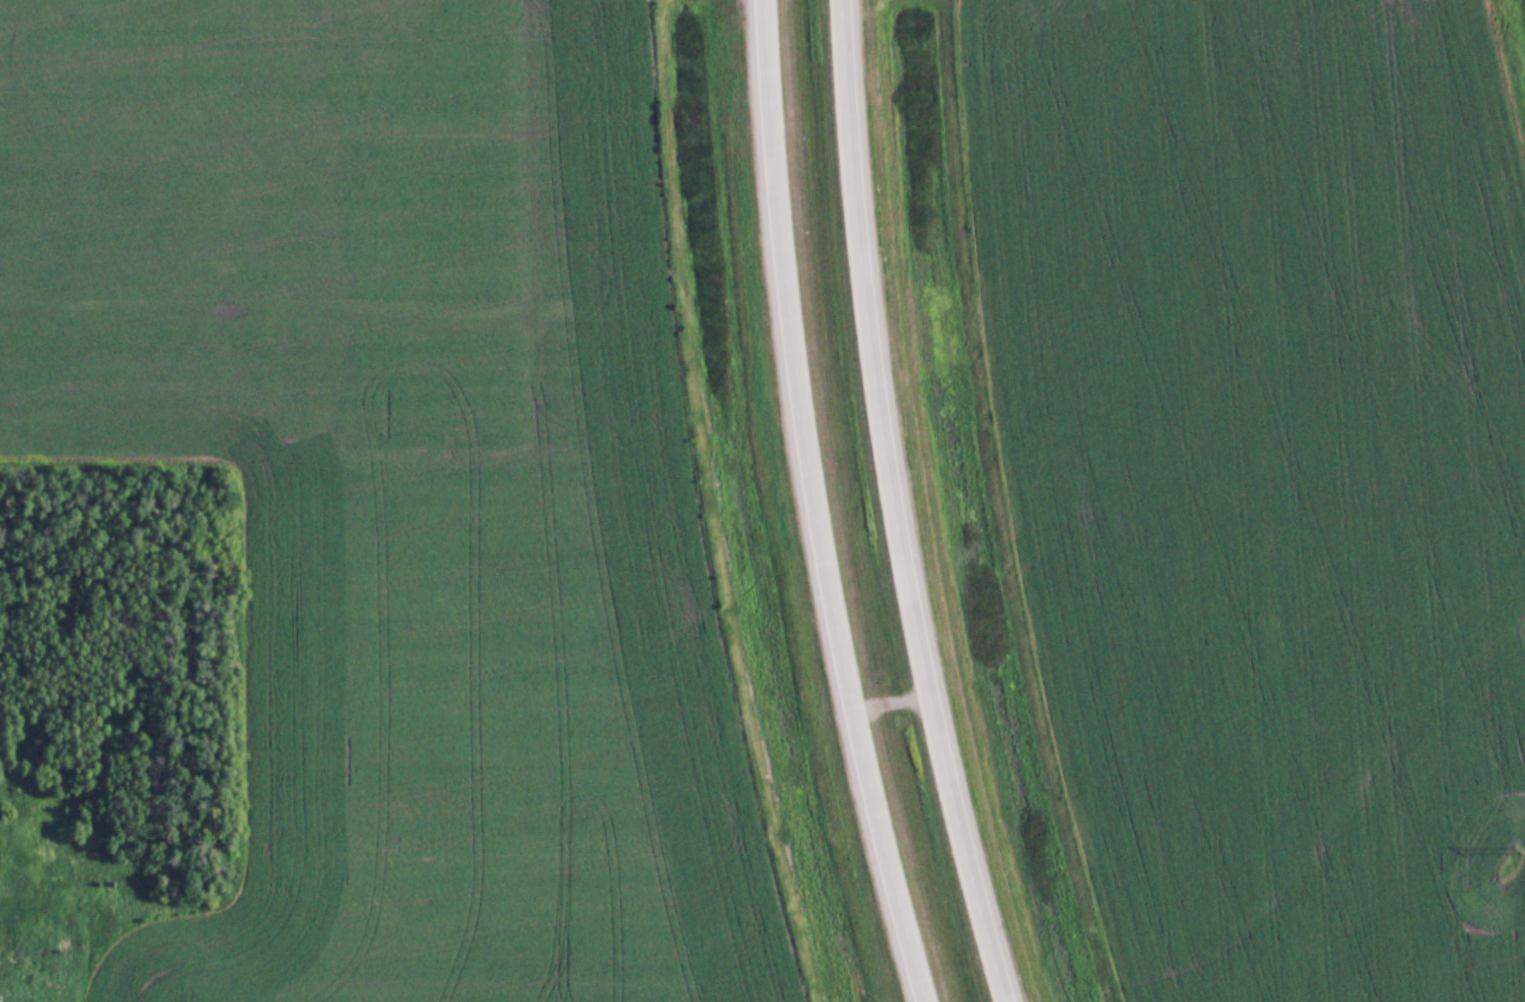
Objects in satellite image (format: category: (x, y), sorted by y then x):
road: (822, 505)
road: (895, 505)
power tower: (1509, 854)

